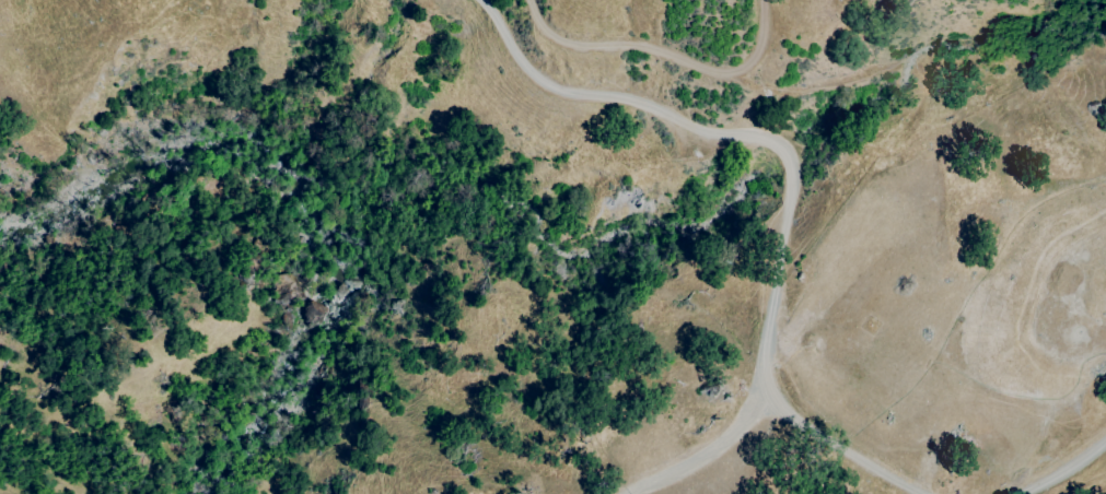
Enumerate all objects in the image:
road: (671, 56)
river: (149, 151)
road: (789, 180)
river: (283, 368)
road: (717, 445)
road: (1074, 473)

